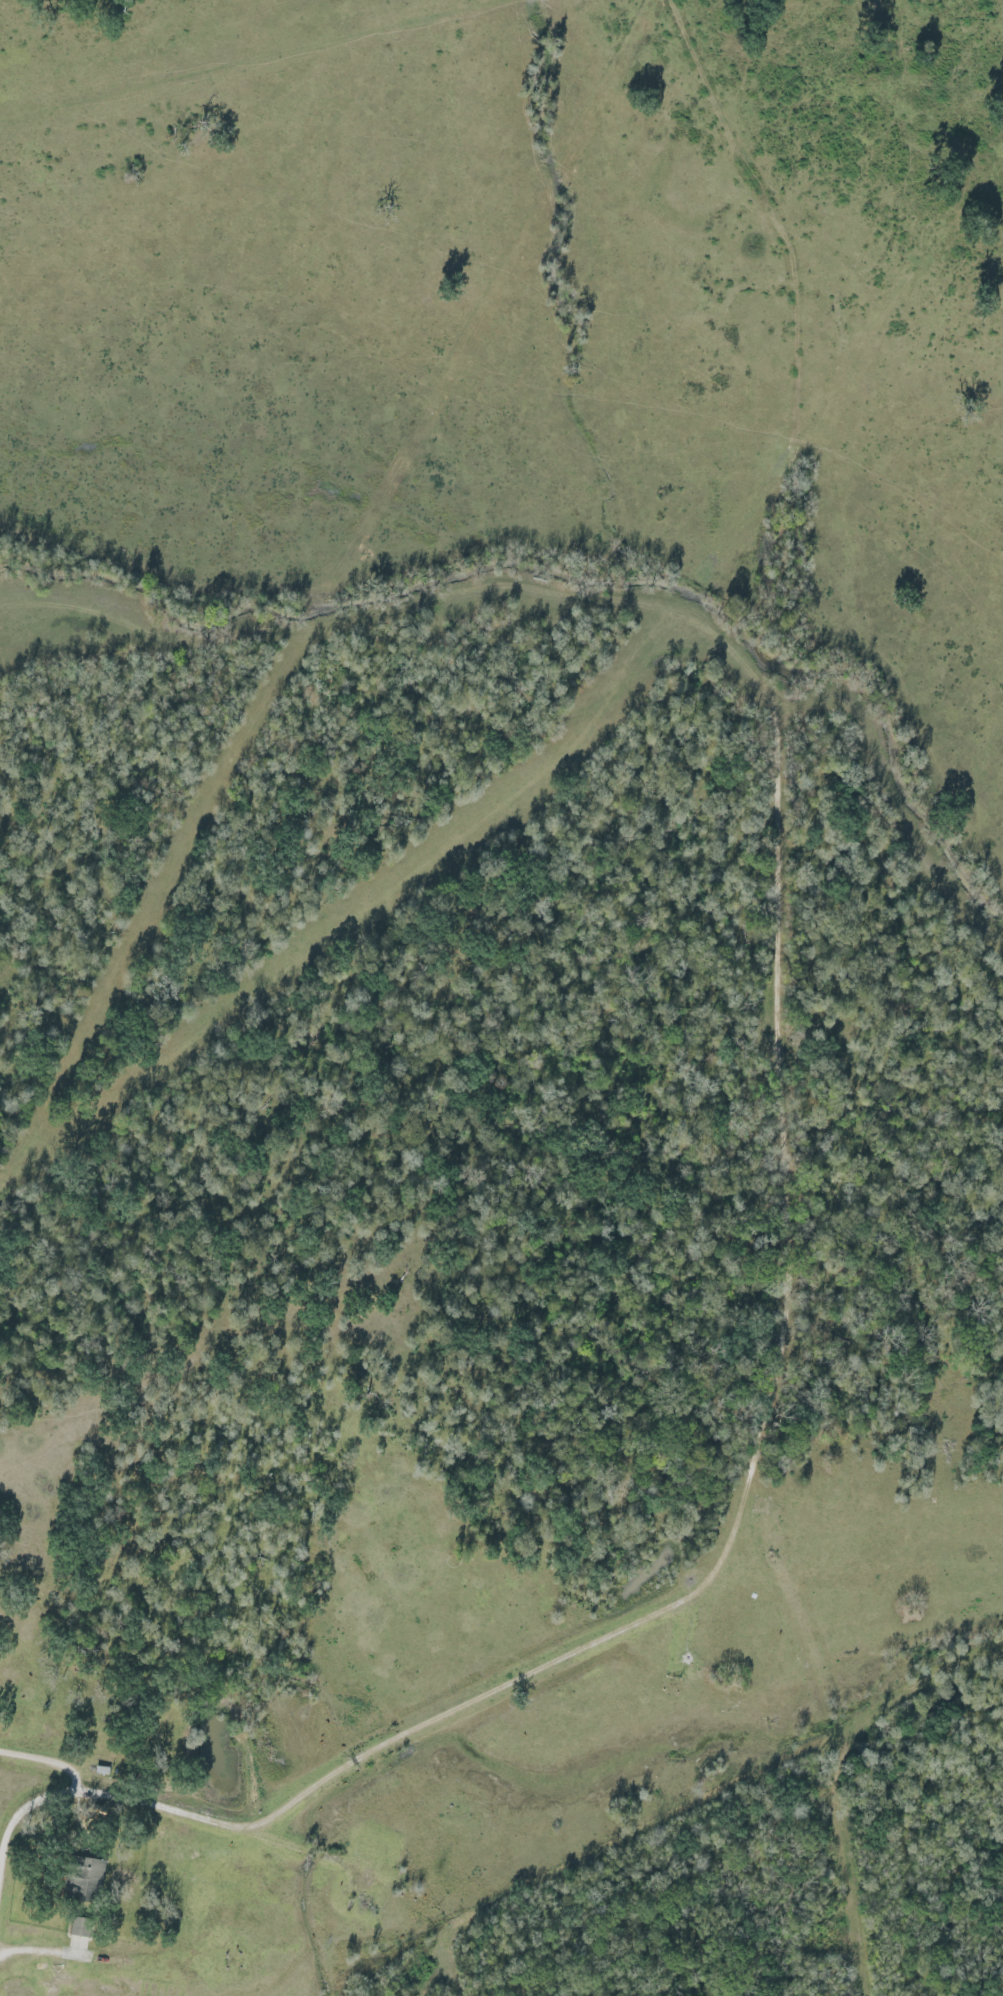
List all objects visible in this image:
river: (866, 671)
road: (749, 1487)
road: (47, 1765)
road: (17, 1830)
building: (83, 1877)
building: (75, 1928)

